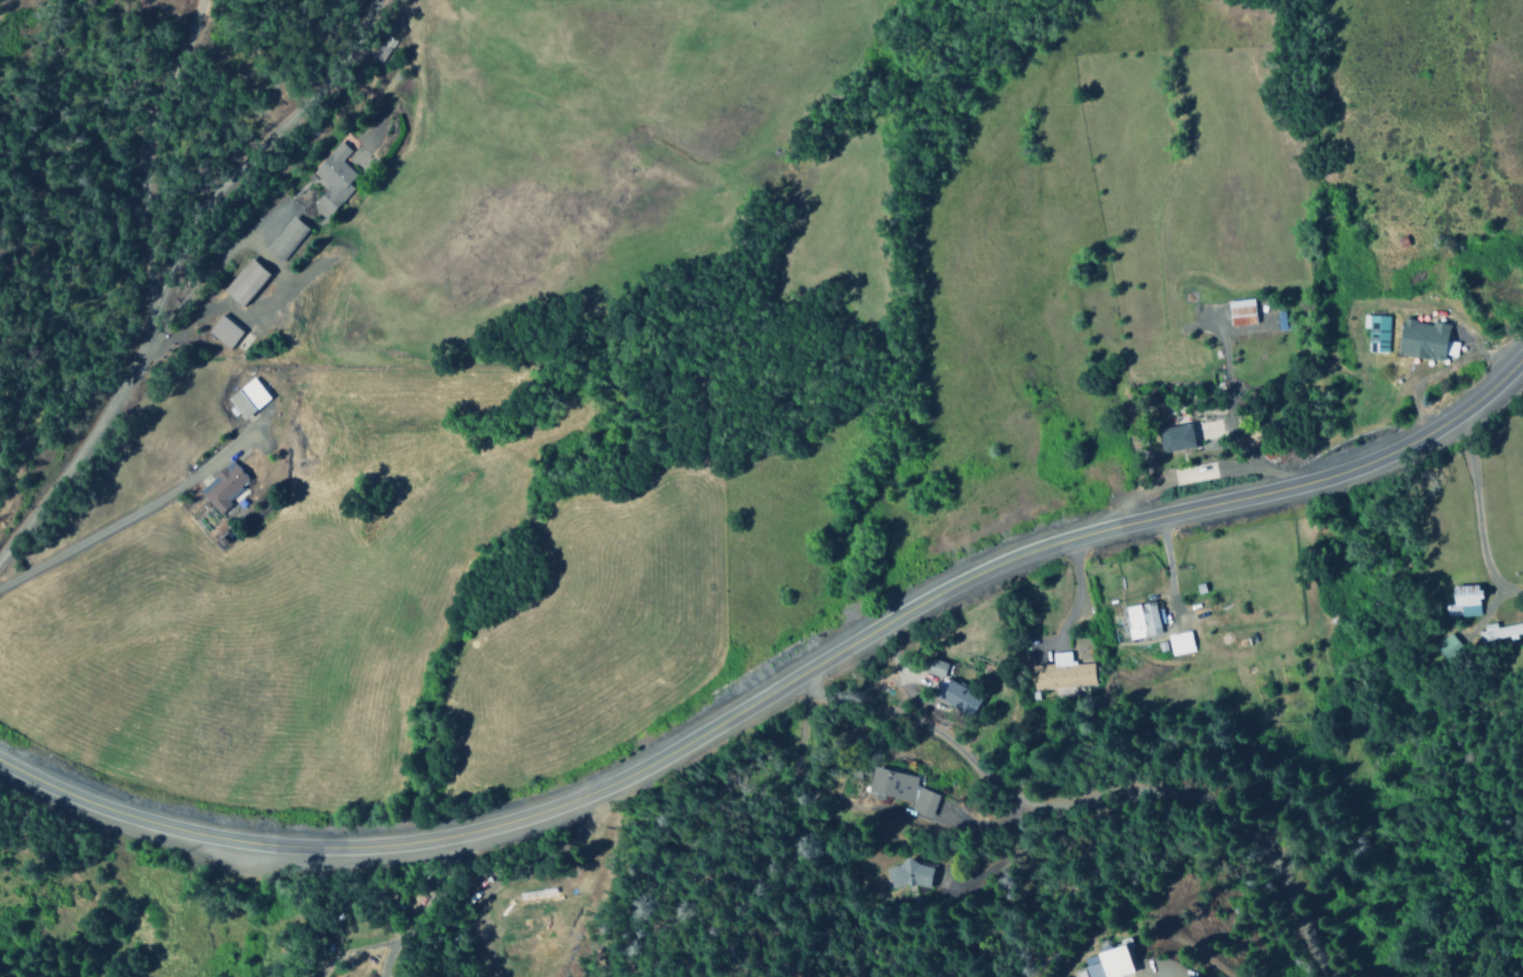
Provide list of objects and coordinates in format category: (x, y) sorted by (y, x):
road: (5, 5)
road: (242, 166)
building: (333, 177)
building: (284, 239)
building: (244, 282)
road: (147, 294)
building: (1240, 312)
building: (223, 332)
building: (1376, 333)
building: (1425, 340)
building: (246, 398)
building: (1175, 438)
building: (222, 486)
road: (1474, 512)
building: (1463, 601)
building: (1141, 620)
building: (1498, 632)
building: (1179, 643)
building: (933, 667)
building: (1061, 675)
road: (777, 686)
building: (956, 697)
building: (902, 790)
road: (1090, 814)
building: (908, 875)
building: (1106, 964)
road: (1164, 974)

